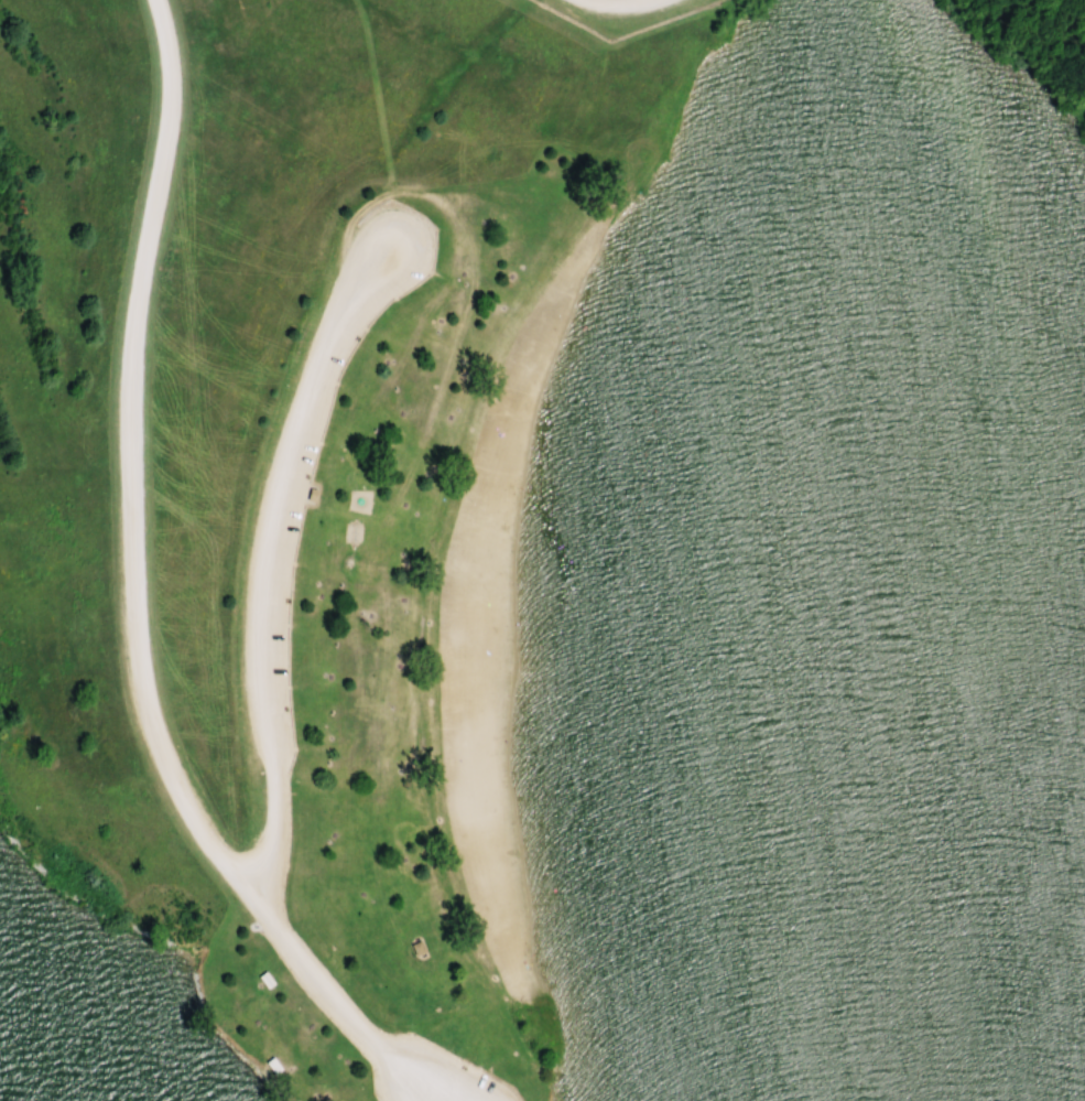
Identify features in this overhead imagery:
road: (610, 1)
park: (542, 550)
road: (270, 561)
road: (132, 595)

